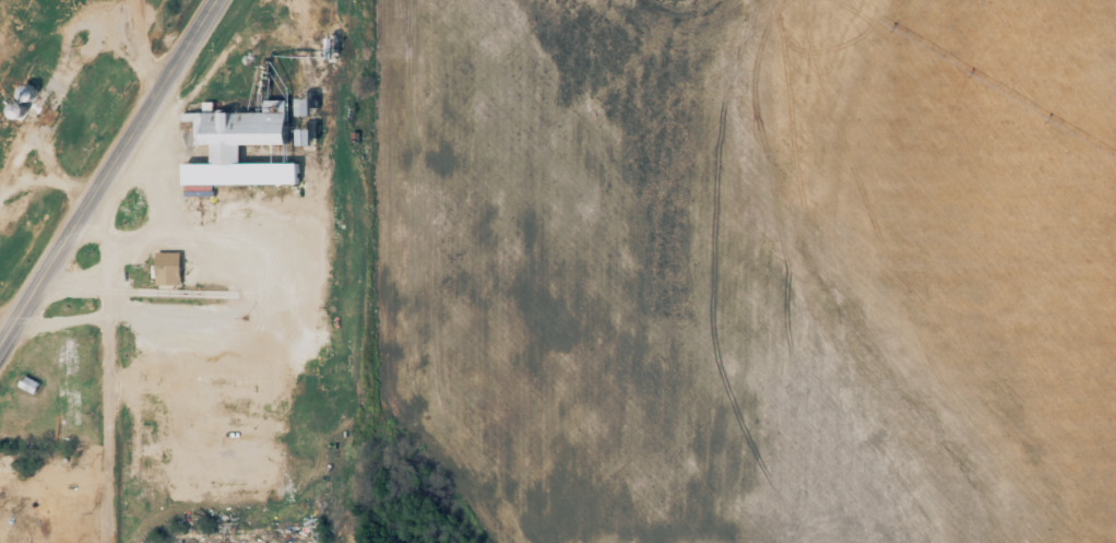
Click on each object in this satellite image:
building: (25, 92)
silo: (25, 92)
building: (314, 106)
building: (14, 108)
silo: (14, 108)
building: (313, 137)
building: (242, 142)
road: (108, 173)
building: (168, 263)
building: (29, 383)
road: (103, 429)

